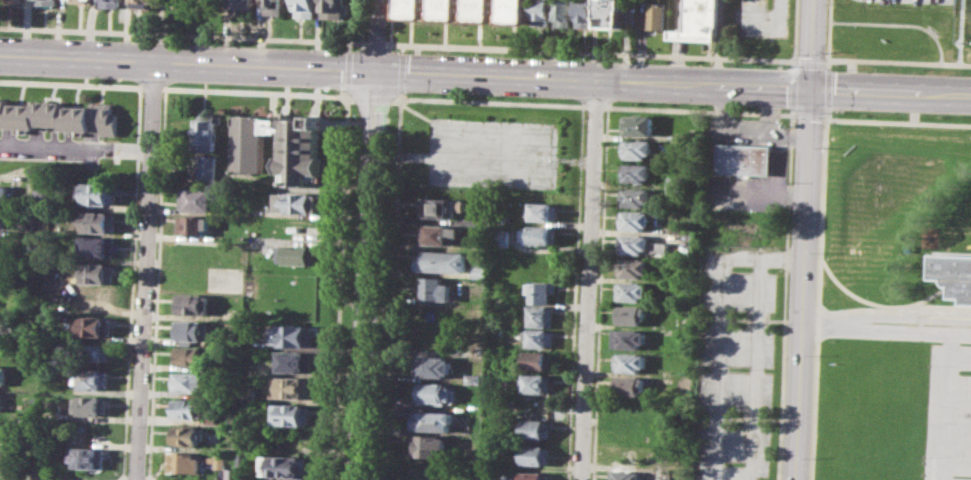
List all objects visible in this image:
building: (14, 1)
building: (81, 1)
parking lot: (918, 1)
building: (46, 2)
building: (110, 3)
building: (142, 4)
building: (241, 7)
building: (273, 7)
building: (304, 8)
building: (334, 8)
building: (412, 8)
building: (447, 9)
building: (481, 10)
building: (516, 10)
building: (544, 12)
building: (565, 12)
building: (586, 12)
building: (613, 13)
building: (656, 15)
building: (698, 20)
road: (361, 21)
road: (390, 21)
road: (899, 24)
road: (794, 32)
road: (961, 32)
street lamp: (8, 33)
road: (182, 34)
road: (829, 34)
road: (374, 35)
street lamp: (364, 36)
street lamp: (133, 38)
park: (961, 39)
road: (374, 42)
street lamp: (272, 45)
road: (402, 47)
street lamp: (412, 50)
road: (590, 51)
street lamp: (558, 57)
road: (826, 59)
street lamp: (655, 60)
road: (810, 60)
road: (186, 62)
road: (899, 62)
street lamp: (782, 65)
street lamp: (833, 67)
traffic signals: (373, 71)
road: (401, 72)
street lamp: (958, 73)
street lamp: (6, 75)
street lamp: (130, 81)
road: (671, 84)
road: (792, 85)
street lamp: (270, 88)
traffic signals: (810, 88)
road: (826, 89)
street lamp: (415, 93)
road: (373, 98)
road: (397, 98)
street lamp: (556, 98)
road: (492, 101)
street lamp: (653, 103)
road: (594, 106)
street lamp: (783, 109)
road: (791, 112)
street lamp: (833, 113)
street lamp: (958, 115)
building: (60, 116)
road: (808, 116)
street lamp: (357, 117)
road: (824, 118)
road: (898, 121)
building: (637, 124)
road: (764, 130)
building: (204, 134)
road: (793, 136)
road: (74, 146)
building: (280, 148)
road: (548, 148)
street lamp: (822, 148)
building: (636, 149)
parking lot: (493, 152)
road: (403, 156)
building: (743, 158)
gas station: (743, 158)
road: (777, 158)
building: (201, 168)
building: (635, 173)
road: (714, 181)
building: (675, 184)
building: (40, 188)
building: (98, 193)
building: (4, 195)
building: (634, 197)
building: (196, 199)
building: (296, 202)
road: (787, 203)
building: (441, 207)
building: (544, 211)
building: (5, 216)
building: (633, 220)
building: (98, 221)
building: (193, 225)
building: (441, 234)
building: (540, 234)
building: (500, 238)
road: (805, 239)
road: (316, 240)
building: (640, 245)
building: (96, 247)
street lamp: (818, 252)
building: (297, 253)
building: (443, 261)
building: (632, 267)
road: (144, 270)
building: (480, 270)
building: (95, 273)
building: (954, 274)
road: (365, 275)
road: (587, 280)
road: (339, 286)
road: (393, 286)
building: (434, 288)
building: (540, 291)
building: (631, 291)
road: (818, 294)
building: (3, 296)
building: (193, 303)
road: (876, 304)
road: (893, 307)
building: (539, 315)
building: (630, 315)
building: (681, 320)
building: (4, 323)
building: (93, 327)
road: (718, 328)
building: (192, 330)
road: (886, 330)
building: (291, 335)
building: (538, 337)
building: (631, 338)
road: (413, 350)
building: (92, 352)
street lamp: (814, 355)
building: (190, 356)
building: (294, 360)
building: (537, 360)
building: (628, 362)
parking lot: (736, 364)
building: (431, 366)
building: (3, 375)
building: (473, 378)
building: (93, 379)
building: (190, 381)
building: (536, 383)
road: (756, 384)
building: (628, 385)
building: (292, 387)
building: (435, 393)
building: (1, 401)
building: (91, 404)
road: (947, 406)
building: (195, 409)
building: (627, 409)
parking lot: (948, 413)
building: (291, 414)
building: (431, 420)
building: (534, 429)
building: (186, 435)
building: (427, 445)
building: (6, 453)
building: (531, 454)
building: (90, 457)
street lamp: (810, 457)
building: (219, 461)
building: (244, 461)
building: (186, 462)
building: (286, 467)
building: (530, 475)
building: (625, 475)

